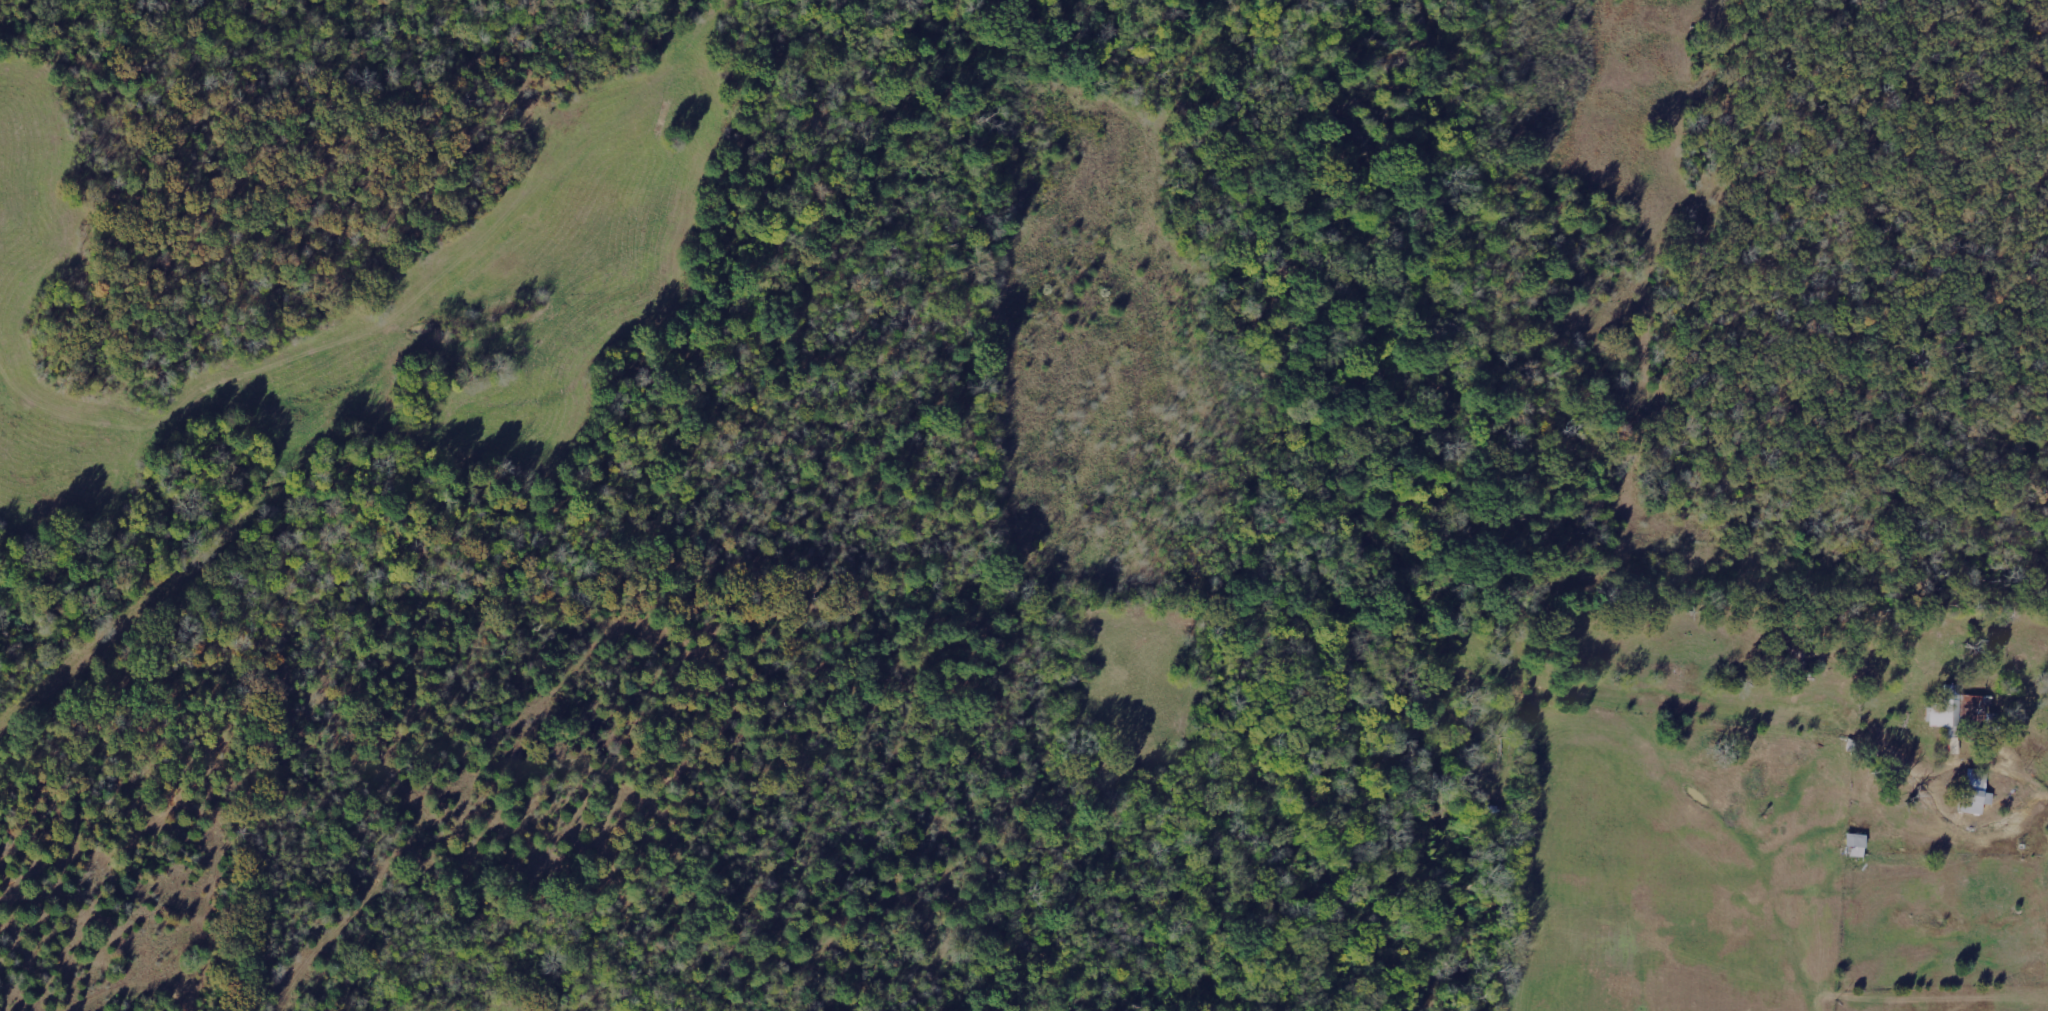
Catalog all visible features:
building: (1945, 717)
building: (1972, 793)
building: (1851, 845)

